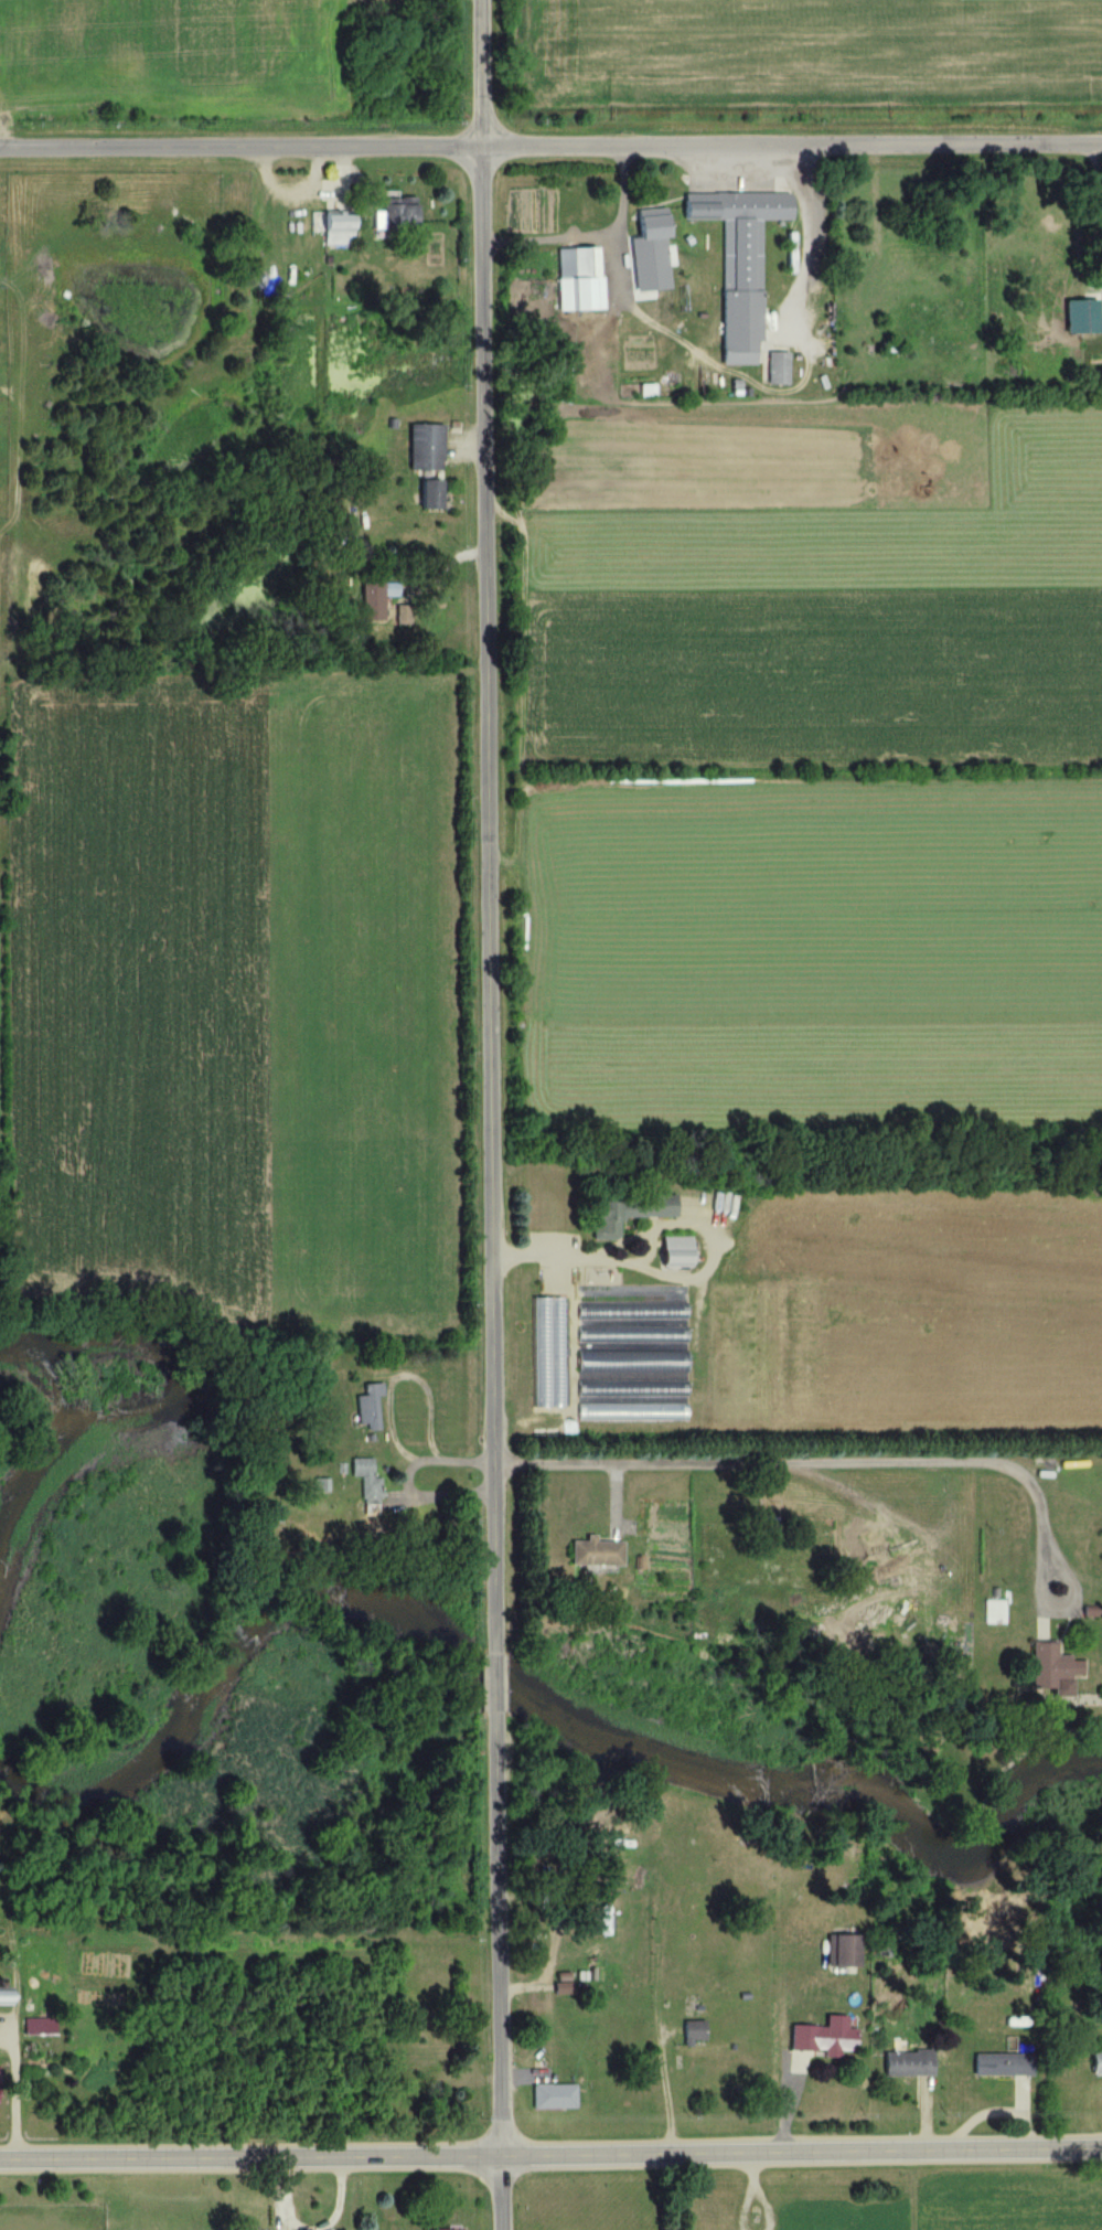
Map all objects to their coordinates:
crop: (172, 56)
road: (550, 140)
building: (395, 213)
building: (334, 228)
building: (646, 230)
road: (805, 231)
building: (736, 235)
building: (1101, 258)
building: (576, 279)
building: (735, 352)
building: (774, 369)
building: (424, 447)
building: (426, 494)
building: (371, 602)
building: (400, 615)
road: (482, 823)
building: (619, 1215)
building: (671, 1253)
building: (543, 1354)
building: (628, 1363)
river: (184, 1400)
building: (365, 1409)
road: (621, 1457)
road: (926, 1460)
building: (363, 1482)
road: (1039, 1514)
building: (591, 1555)
building: (989, 1614)
building: (1046, 1667)
road: (494, 1684)
river: (537, 1700)
road: (496, 1938)
building: (841, 1953)
building: (559, 1989)
building: (0, 1993)
building: (823, 2038)
building: (696, 2044)
building: (906, 2064)
building: (1094, 2064)
building: (998, 2066)
road: (10, 2091)
building: (550, 2099)
road: (550, 2152)
road: (499, 2191)
building: (713, 2209)

